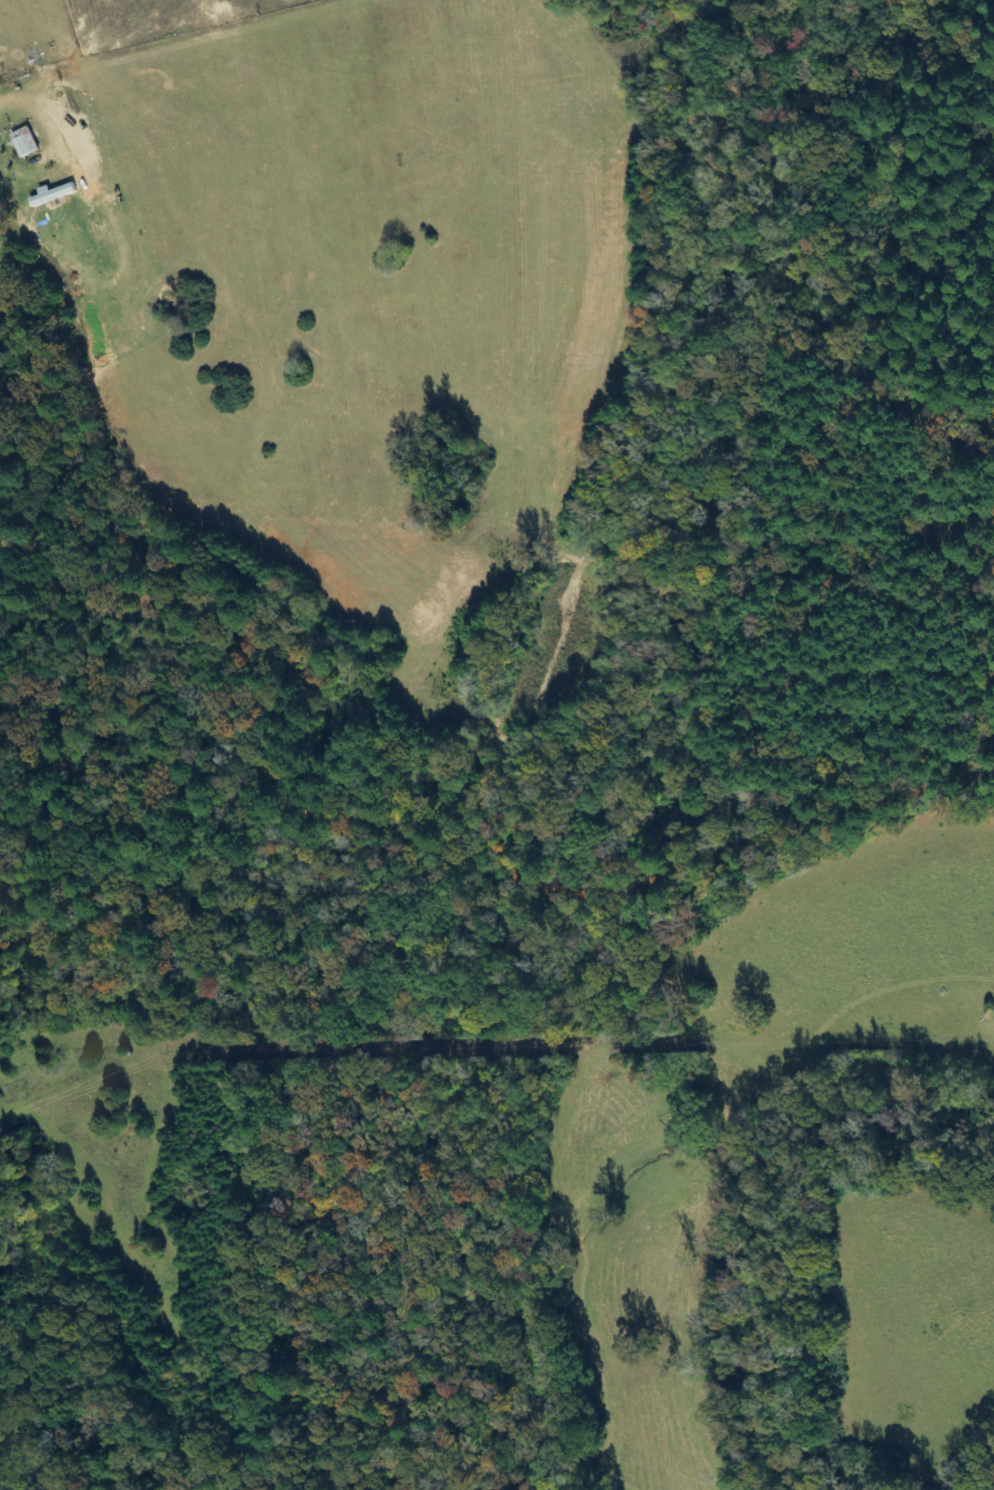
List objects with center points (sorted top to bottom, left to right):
building: (26, 142)
road: (487, 894)

